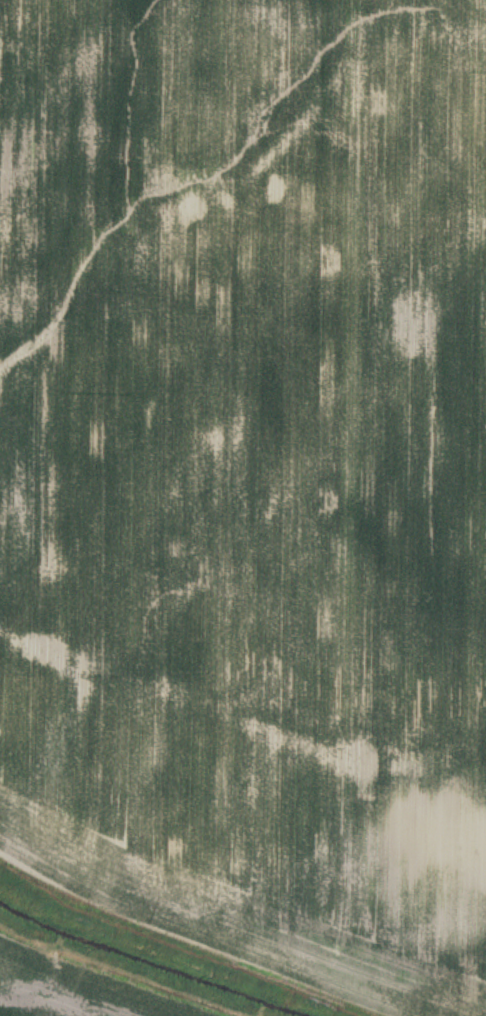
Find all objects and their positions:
crop: (243, 508)

